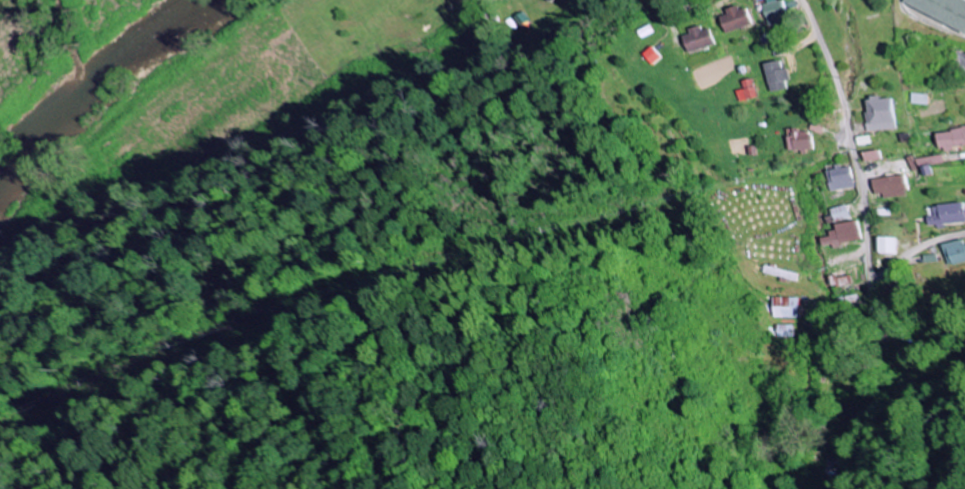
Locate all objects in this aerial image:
building: (537, 1)
building: (940, 11)
building: (773, 12)
building: (733, 19)
building: (695, 39)
building: (646, 56)
building: (961, 64)
building: (774, 76)
river: (90, 79)
building: (744, 91)
building: (916, 99)
building: (877, 114)
building: (948, 139)
building: (796, 141)
road: (848, 142)
building: (868, 156)
building: (835, 178)
building: (885, 187)
building: (836, 214)
building: (941, 215)
building: (837, 235)
building: (882, 246)
road: (908, 252)
building: (950, 252)
building: (779, 307)

